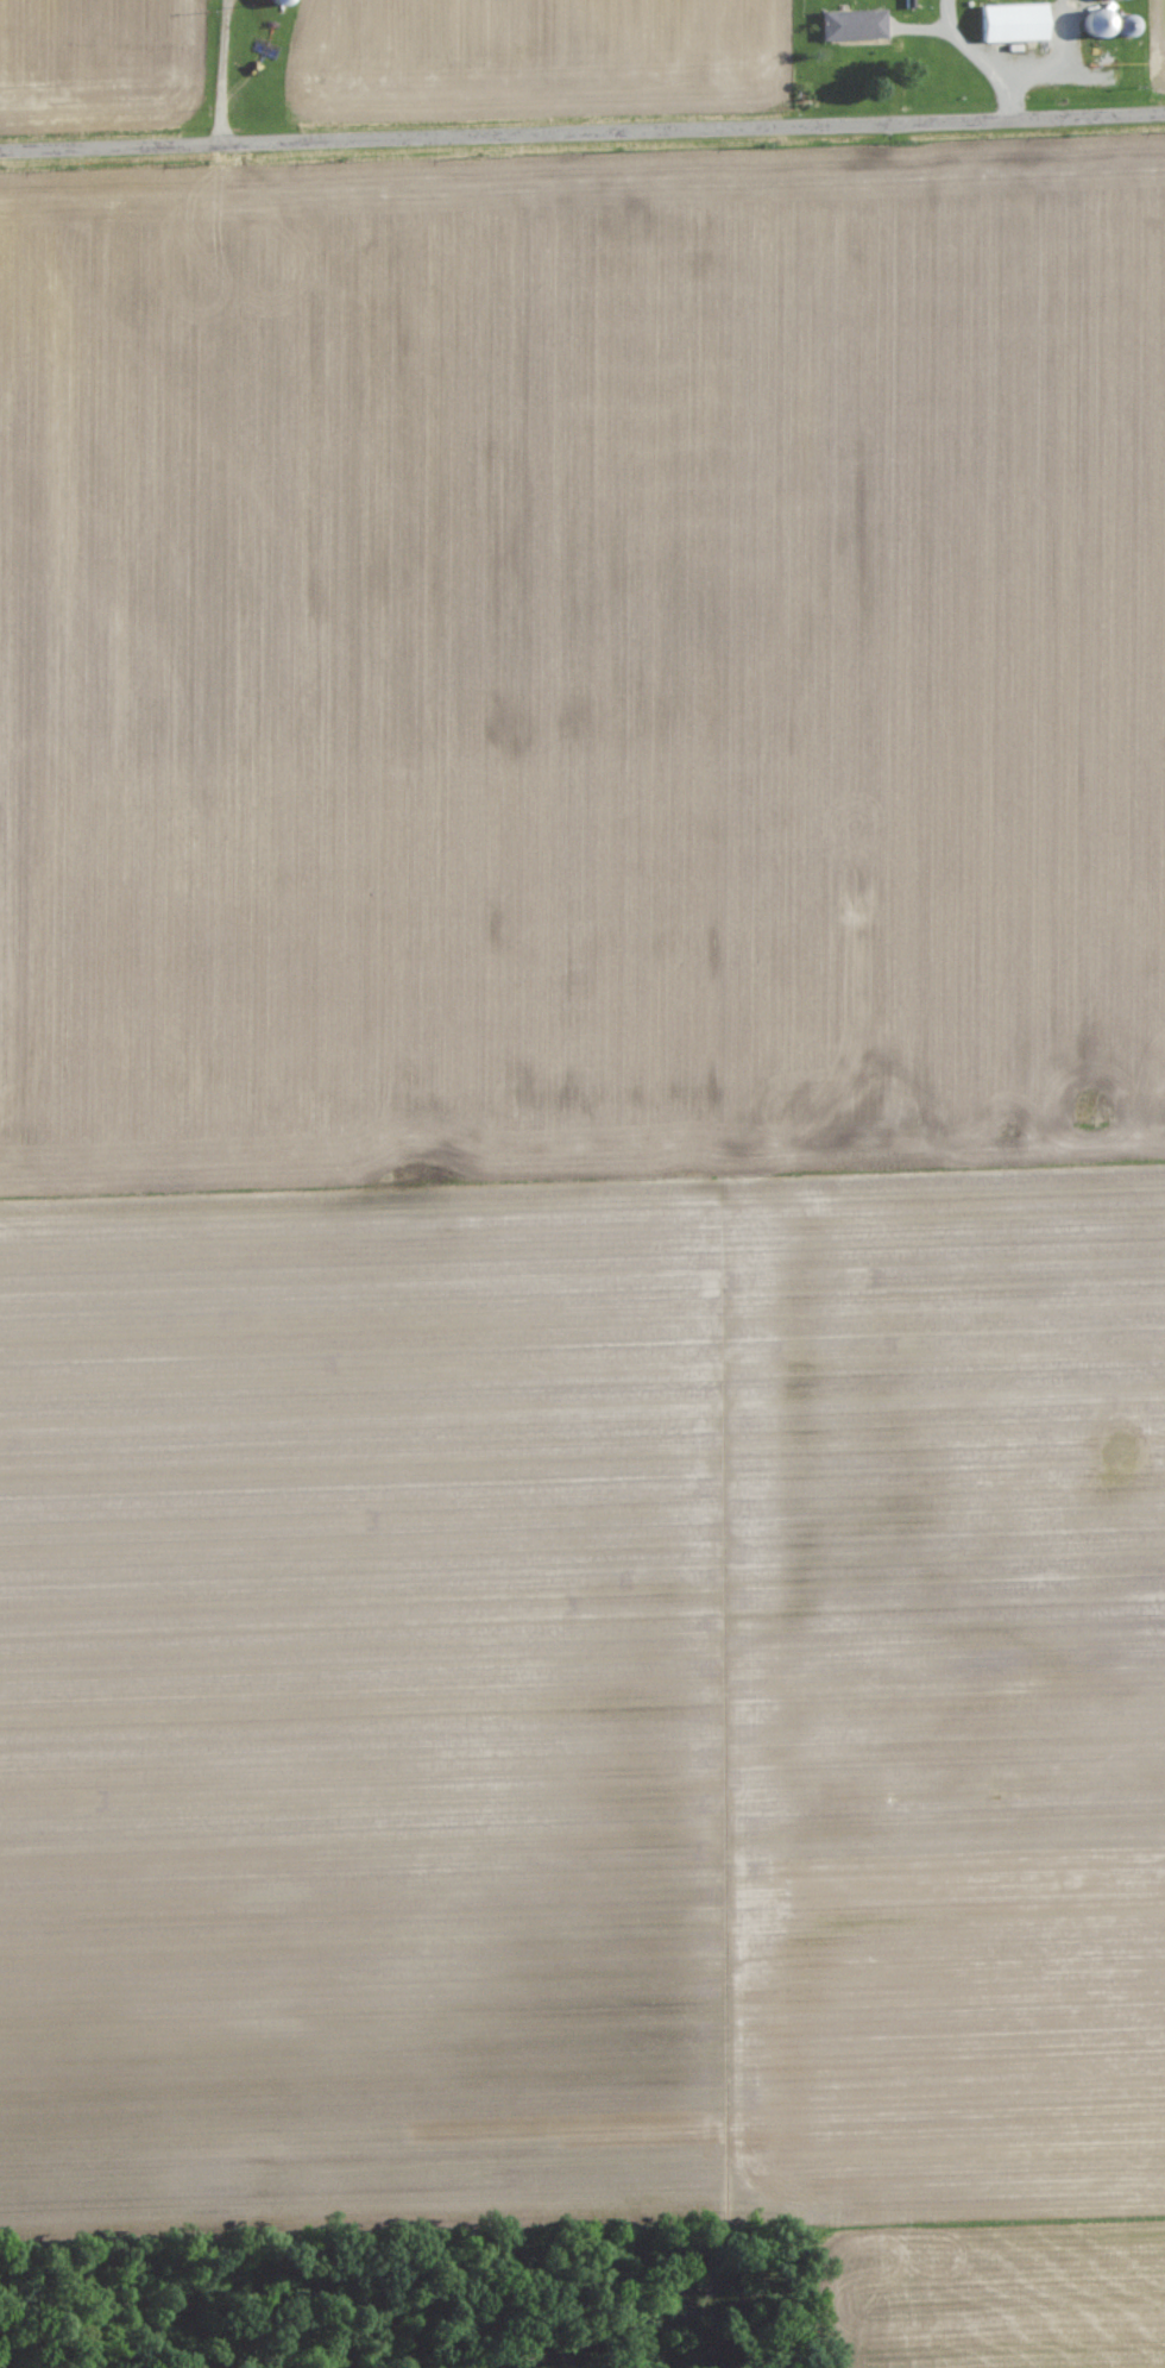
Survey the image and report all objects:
building: (1018, 24)
building: (858, 25)
road: (582, 131)

